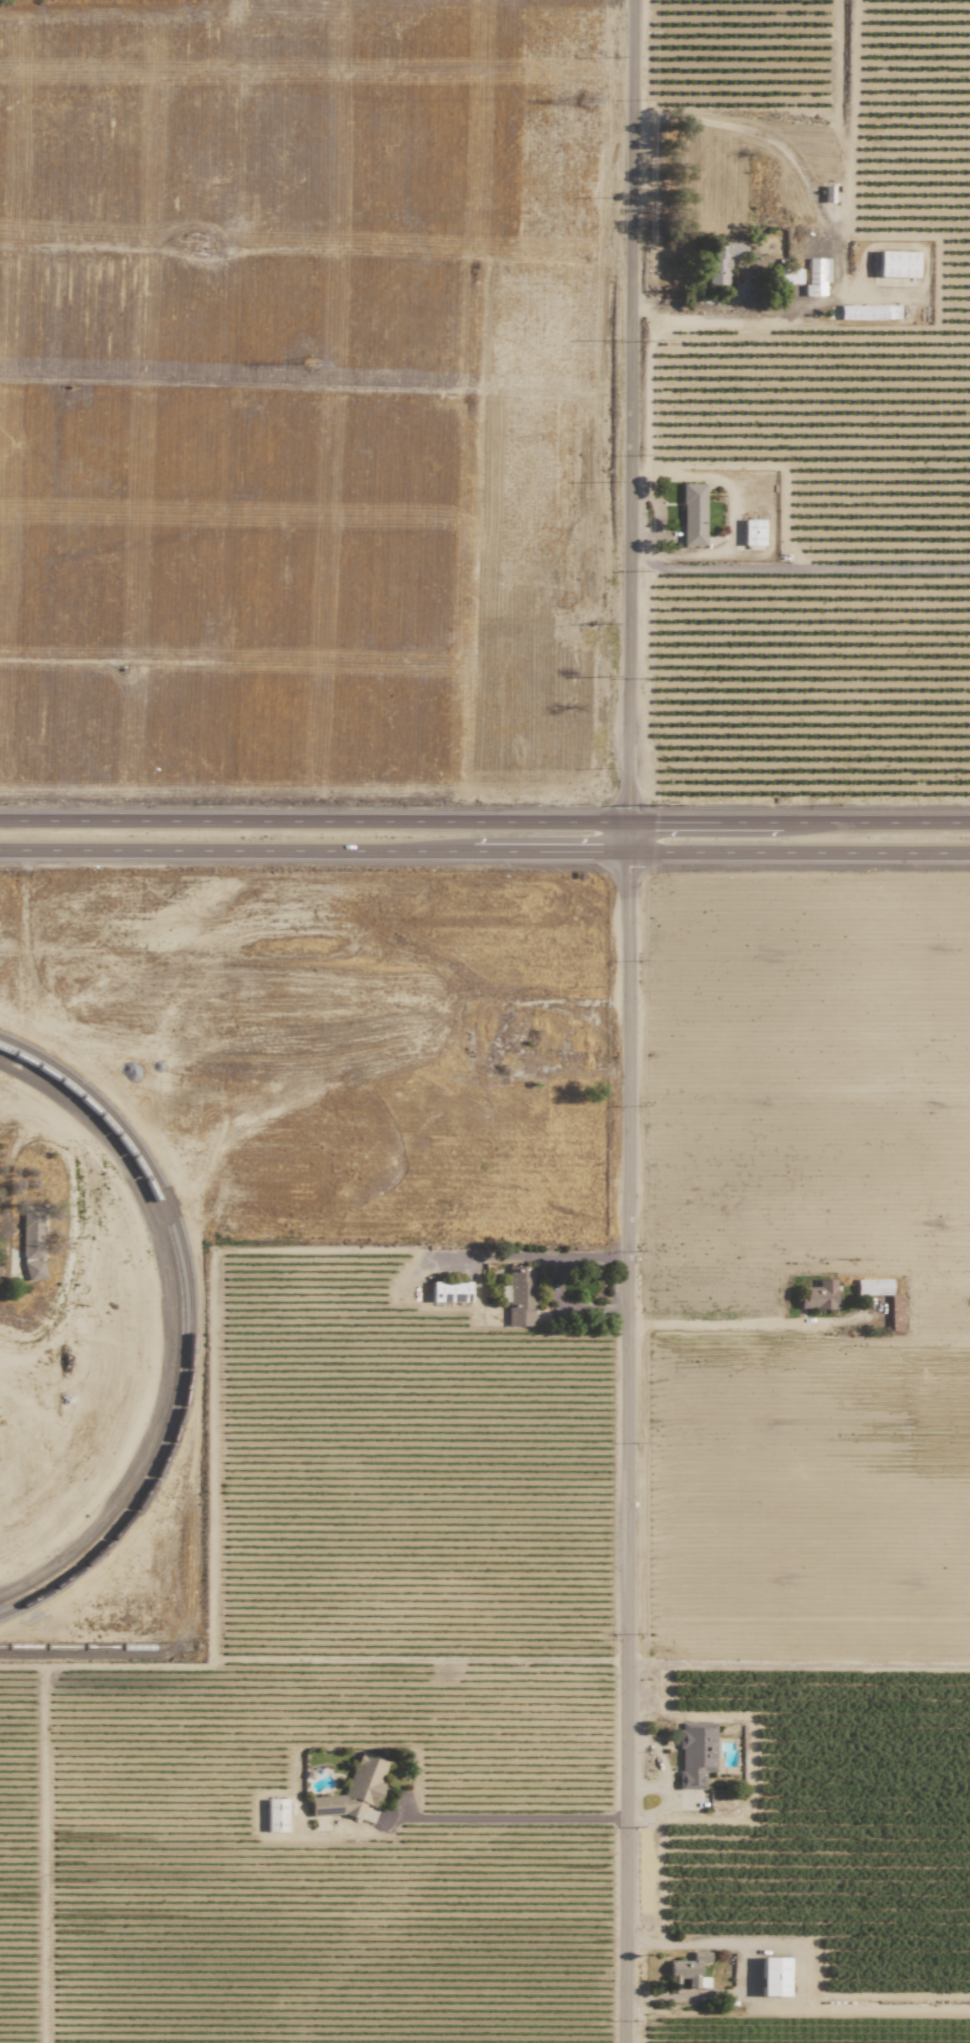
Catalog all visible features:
power tower: (583, 101)
building: (827, 193)
building: (720, 262)
building: (896, 264)
building: (787, 276)
building: (816, 278)
road: (709, 307)
building: (868, 312)
power tower: (306, 363)
building: (692, 514)
building: (752, 532)
road: (484, 822)
road: (484, 851)
road: (26, 966)
road: (630, 1021)
building: (30, 1242)
road: (519, 1256)
road: (555, 1279)
building: (872, 1286)
building: (449, 1292)
building: (519, 1295)
building: (818, 1295)
road: (734, 1322)
road: (801, 1666)
building: (694, 1753)
building: (353, 1790)
building: (275, 1815)
road: (517, 1817)
building: (688, 1970)
building: (772, 1976)

